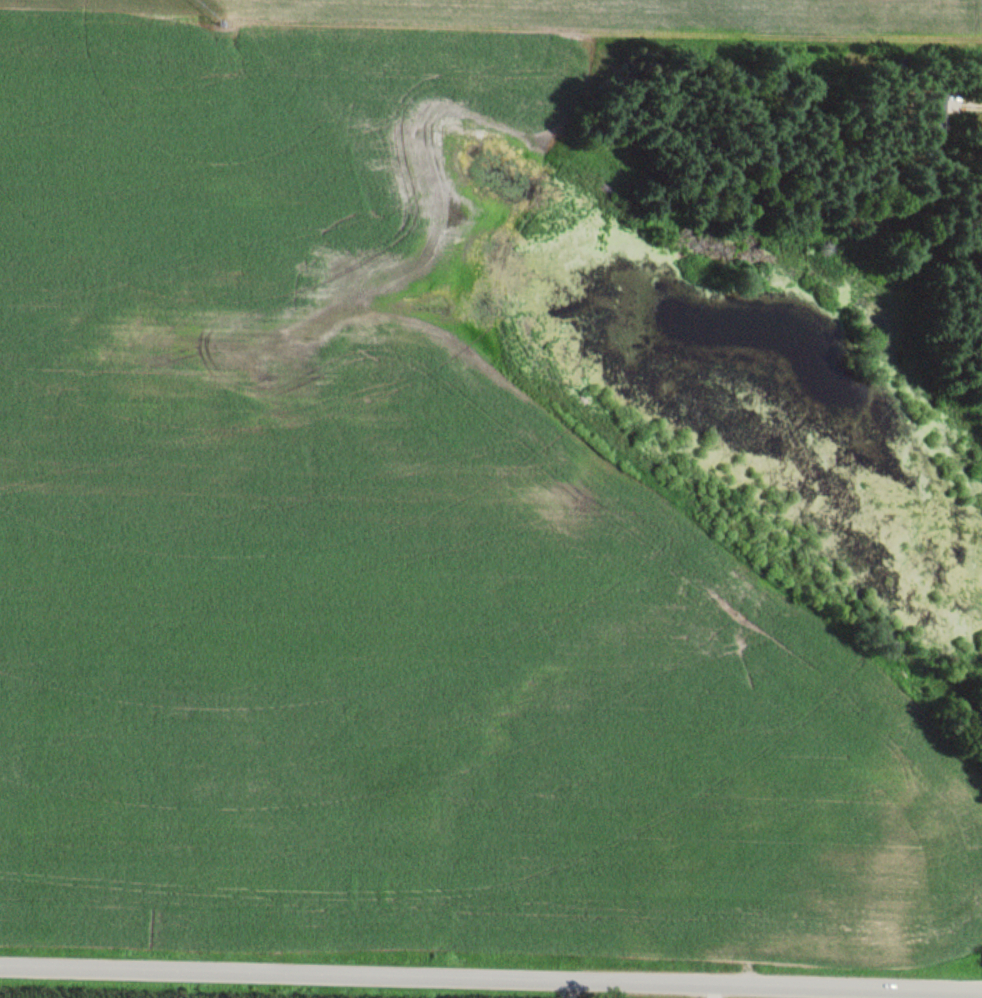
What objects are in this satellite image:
building: (935, 118)
road: (491, 973)

